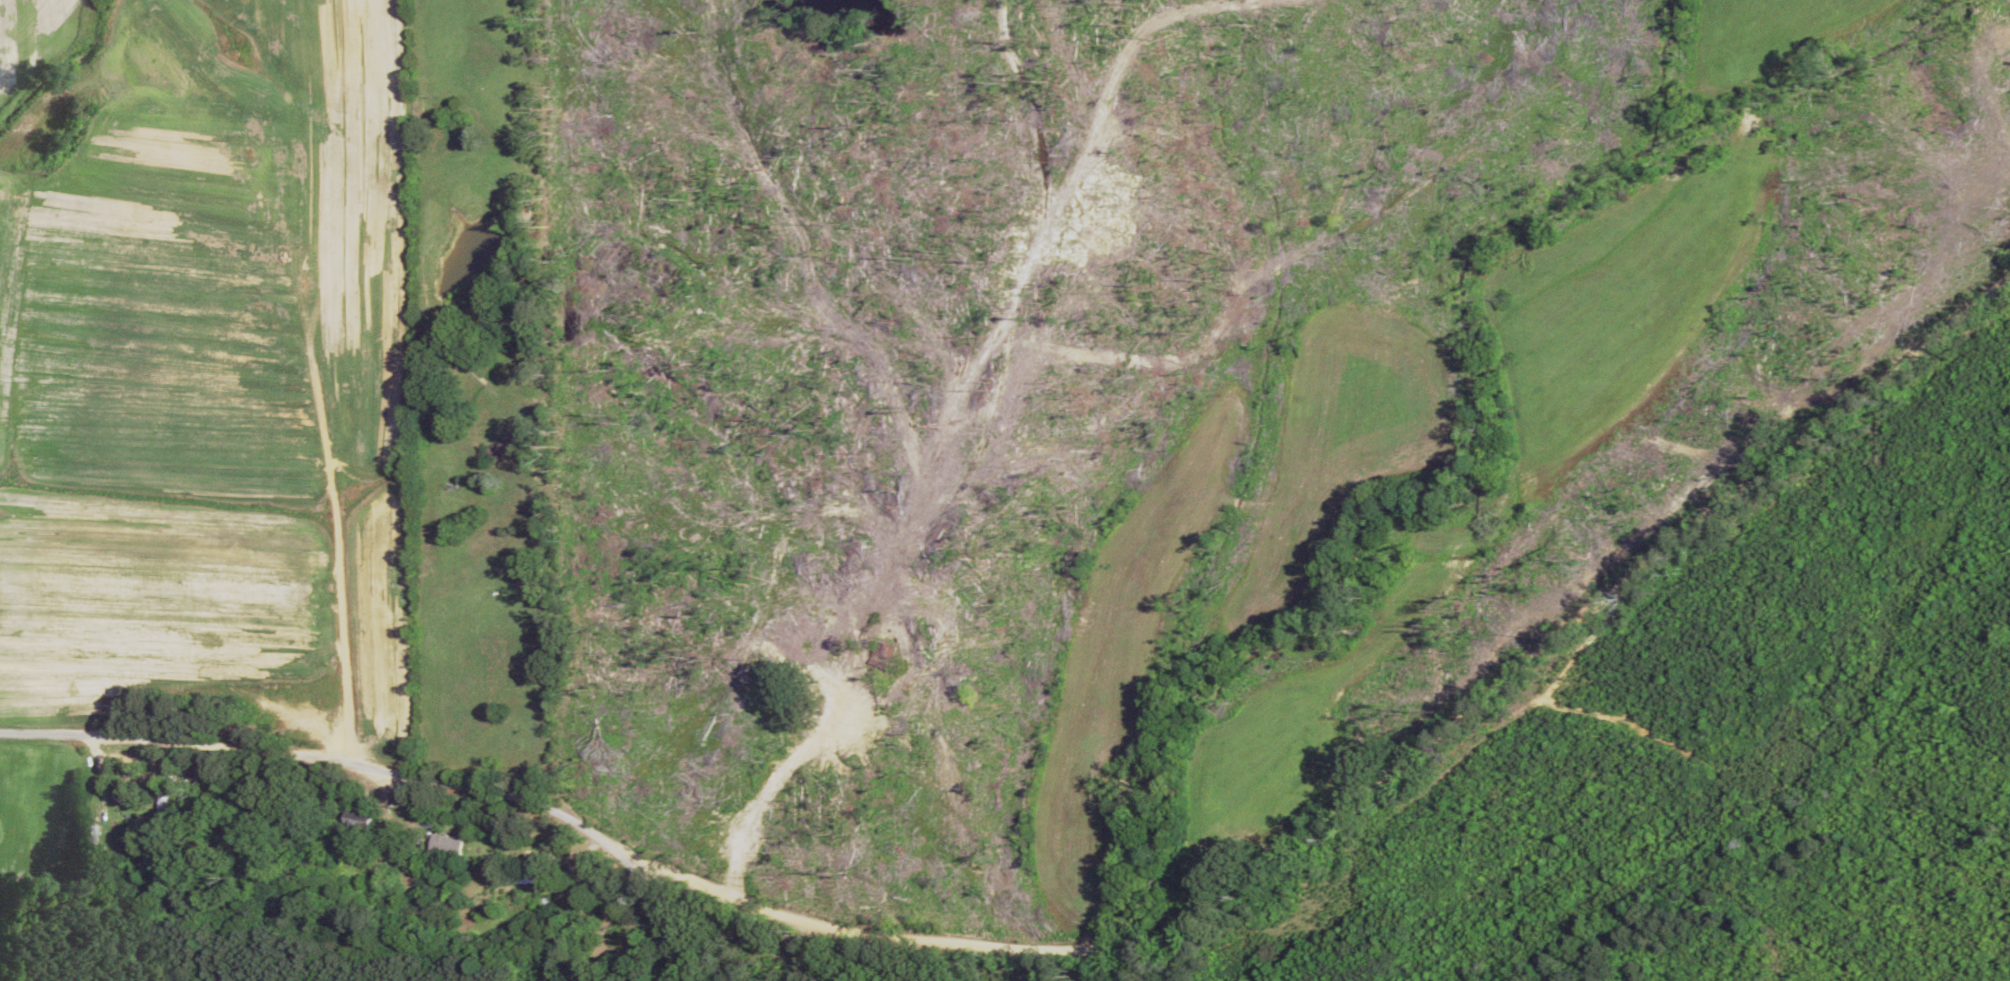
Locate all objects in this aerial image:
building: (497, 452)
road: (384, 537)
road: (726, 757)
road: (1400, 780)
road: (352, 791)
building: (360, 828)
building: (529, 877)
road: (684, 946)

